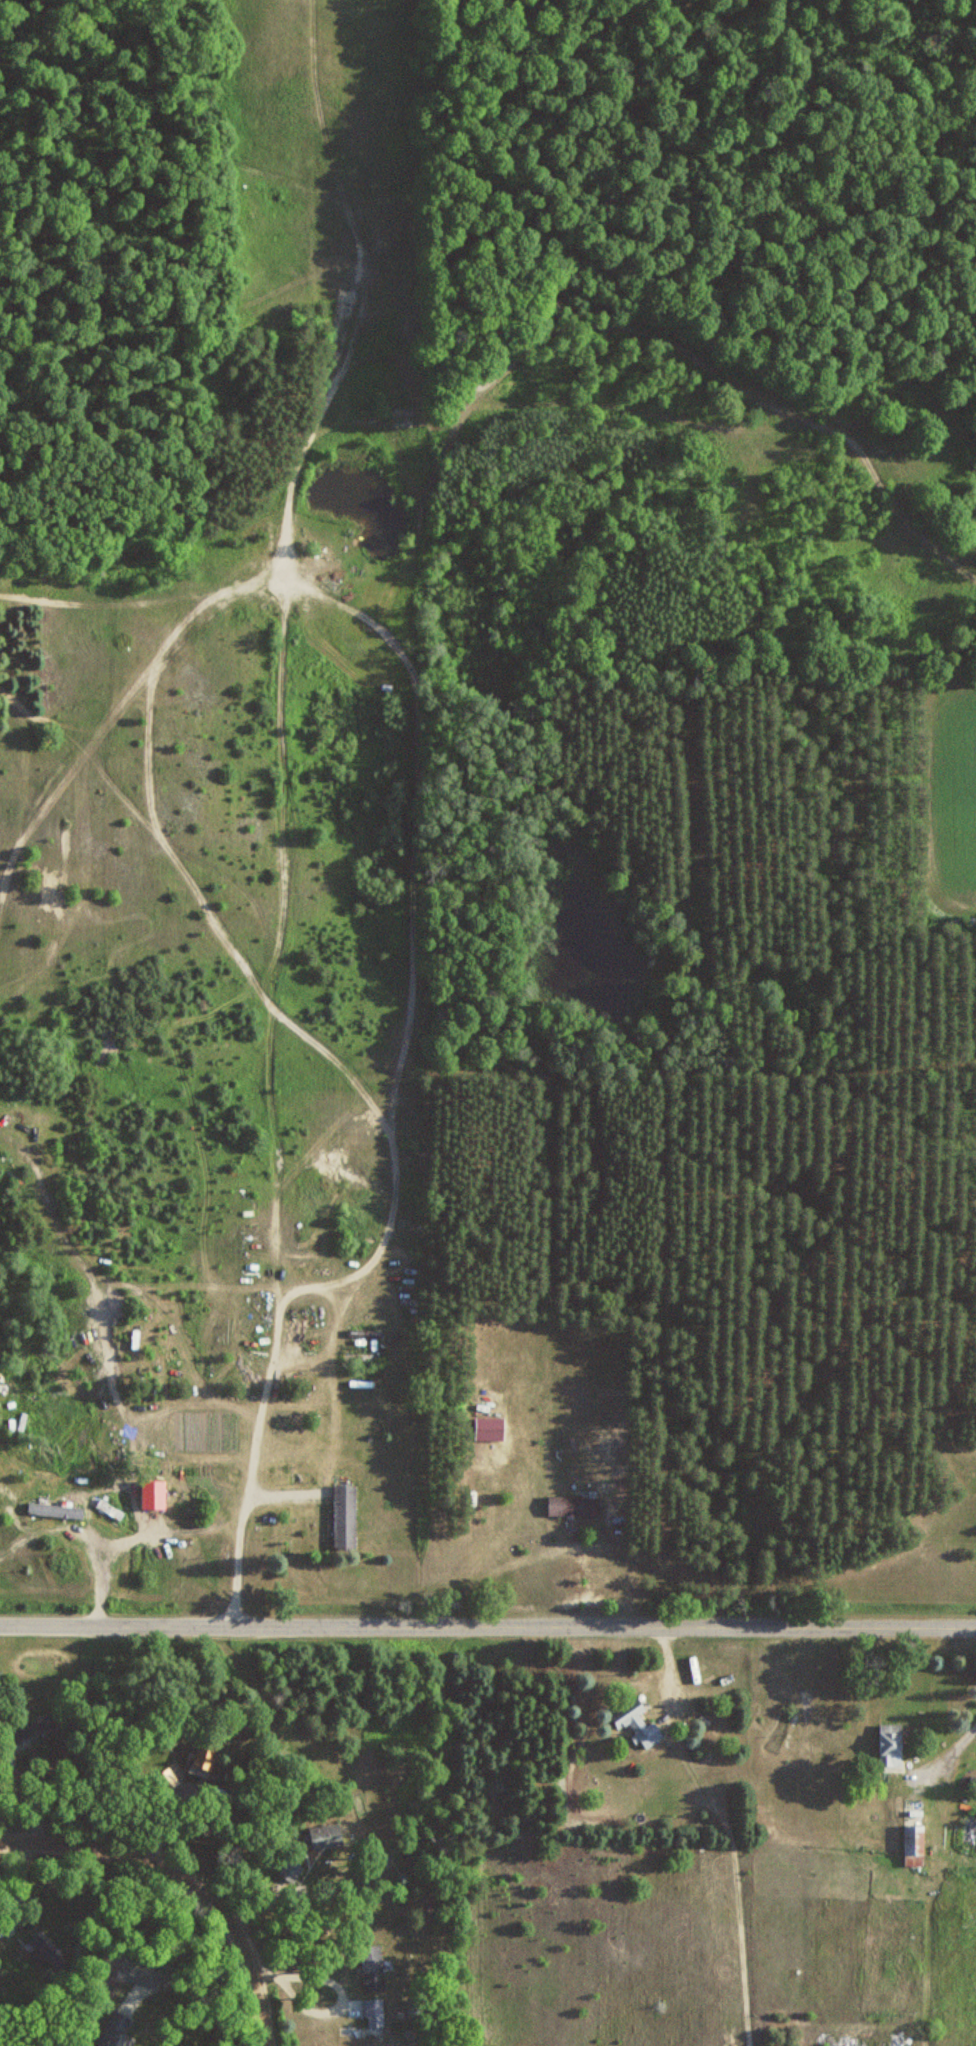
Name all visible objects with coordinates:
building: (491, 1428)
building: (573, 1506)
building: (346, 1517)
building: (71, 1531)
road: (488, 1623)
building: (638, 1724)
building: (34, 1728)
building: (891, 1745)
building: (206, 1757)
building: (169, 1780)
building: (968, 1832)
building: (327, 1837)
building: (915, 1846)
road: (130, 1854)
building: (373, 1968)
building: (109, 1971)
road: (257, 1984)
building: (370, 2020)
building: (118, 2030)

